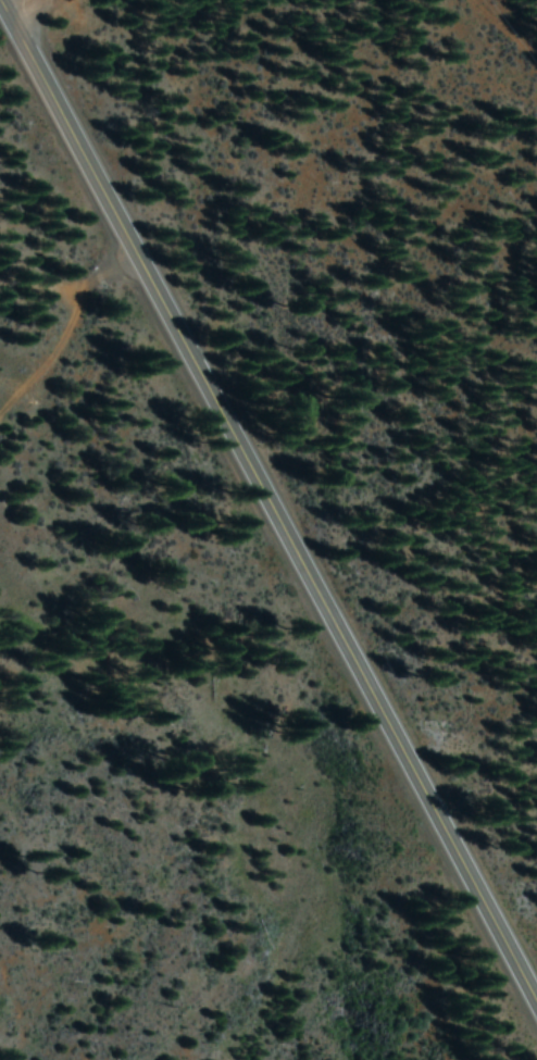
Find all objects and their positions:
road: (25, 8)
road: (68, 329)
road: (272, 492)

